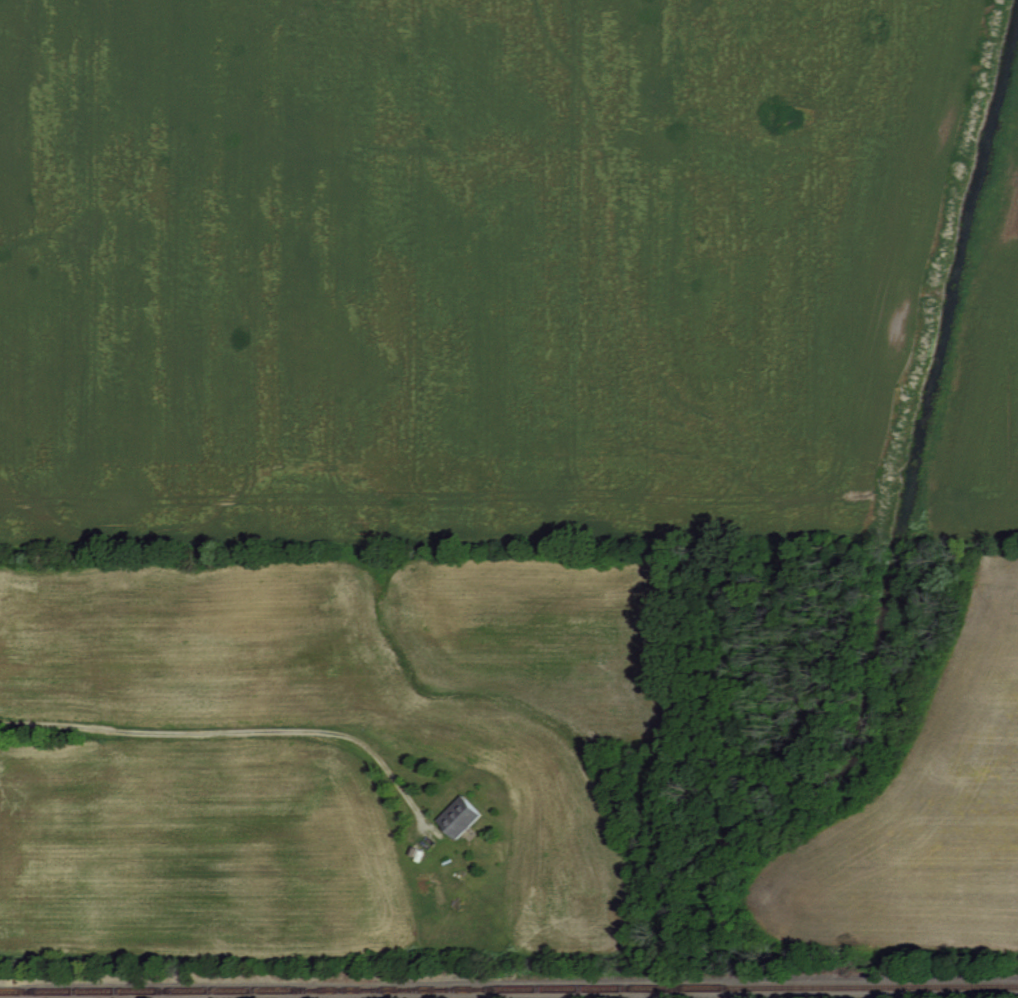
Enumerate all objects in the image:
road: (236, 734)
building: (465, 817)
railway: (509, 989)

